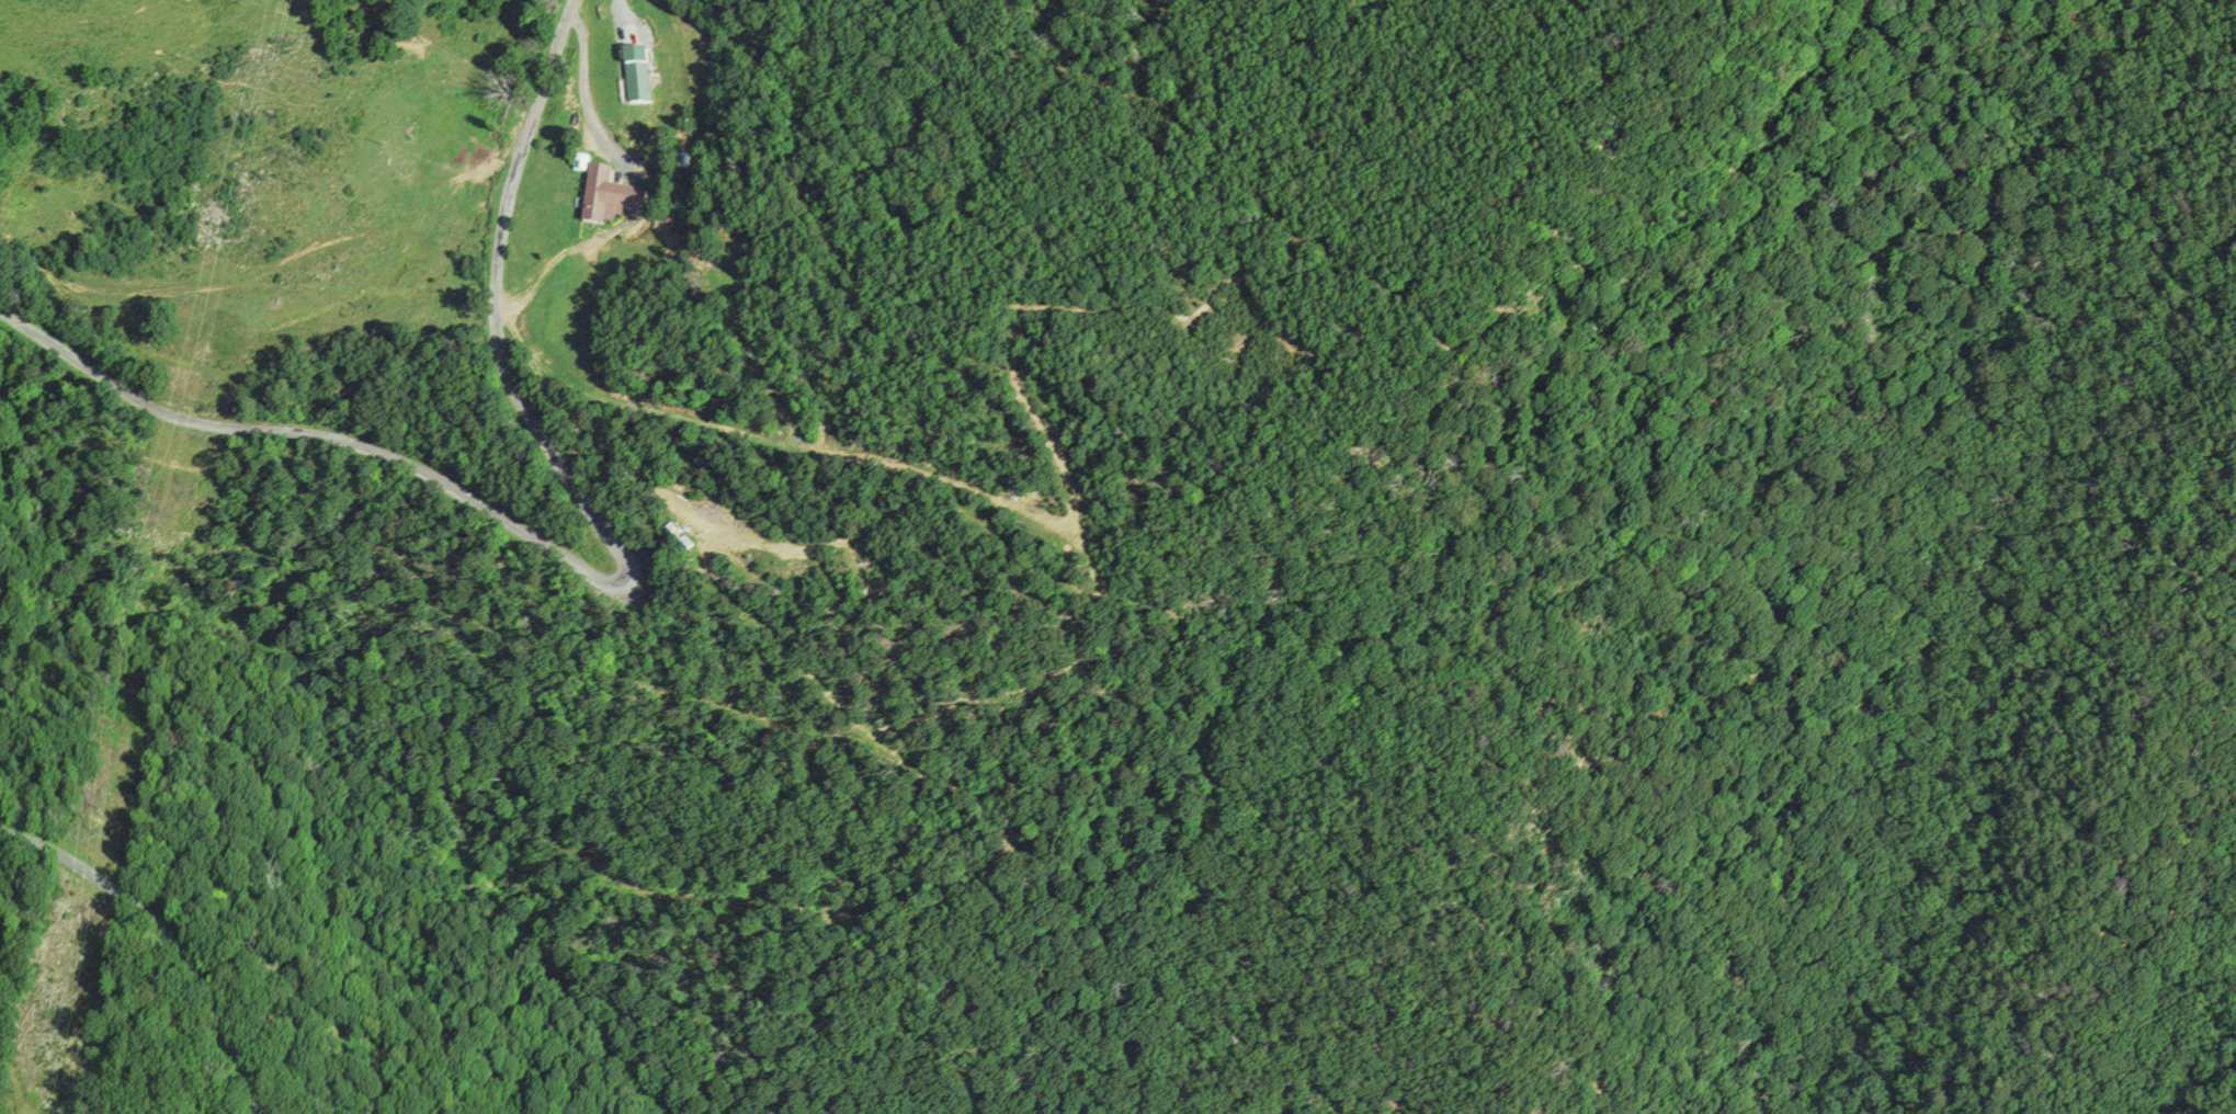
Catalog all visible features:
building: (633, 39)
building: (638, 78)
building: (609, 197)
road: (592, 581)
road: (163, 943)

